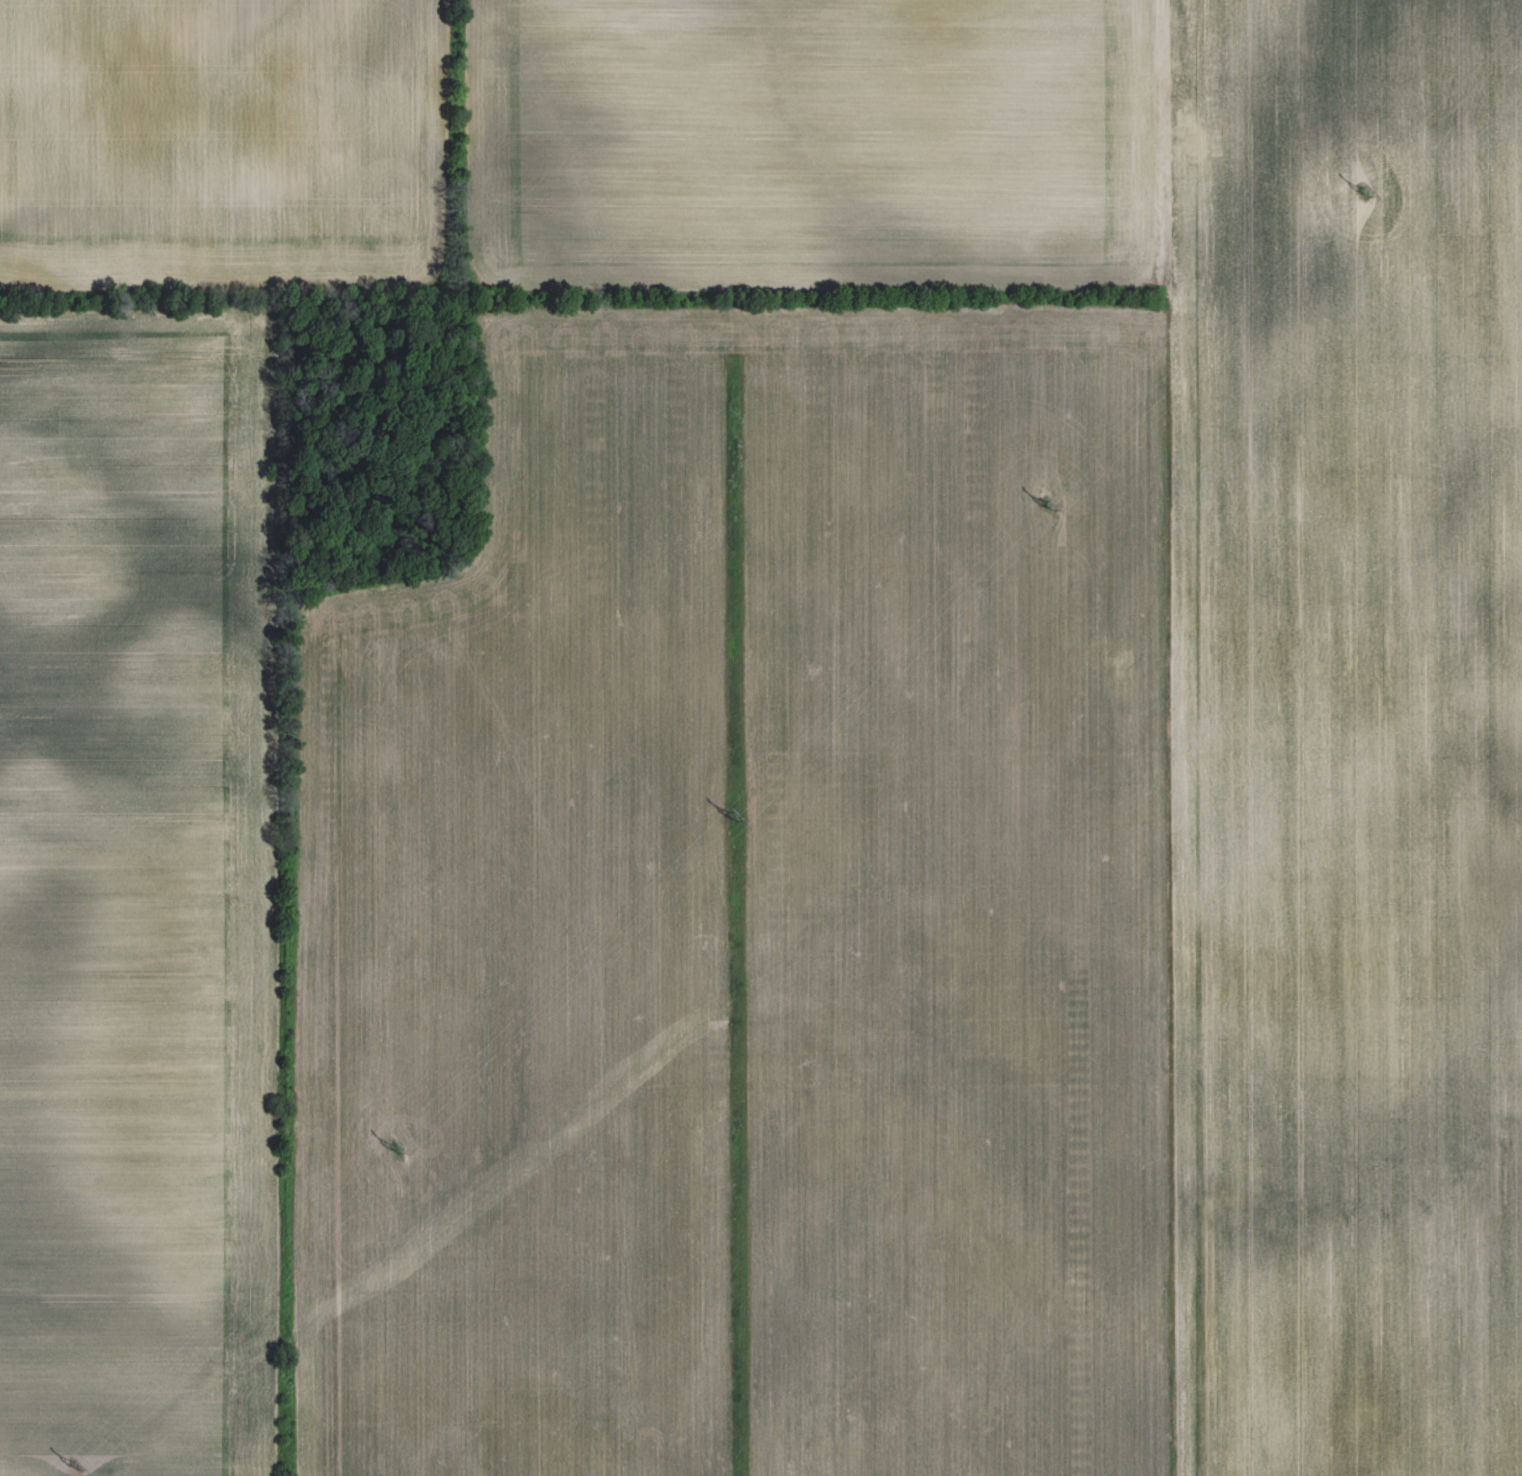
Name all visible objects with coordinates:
power tower: (1365, 195)
power tower: (1047, 507)
power tower: (734, 817)
power tower: (394, 1152)
power tower: (76, 1462)

